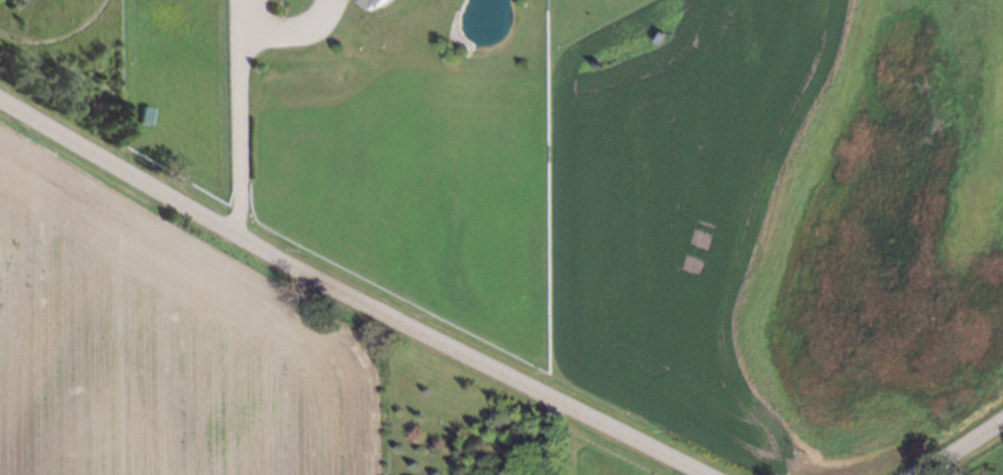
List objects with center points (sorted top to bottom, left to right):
building: (377, 5)
road: (286, 29)
road: (235, 116)
building: (147, 117)
road: (351, 294)
road: (548, 435)
road: (961, 446)
road: (929, 472)

